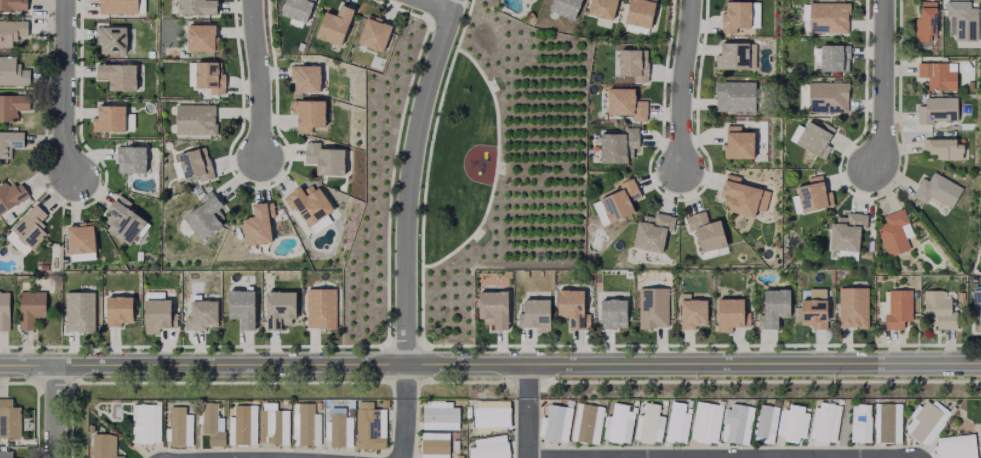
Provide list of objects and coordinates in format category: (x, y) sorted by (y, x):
building: (529, 0)
building: (15, 5)
building: (118, 7)
building: (197, 7)
road: (430, 7)
building: (566, 8)
building: (298, 9)
building: (602, 9)
road: (432, 10)
building: (640, 13)
building: (735, 18)
building: (828, 18)
building: (957, 20)
building: (921, 22)
building: (335, 26)
building: (13, 32)
building: (375, 34)
building: (202, 39)
building: (112, 40)
building: (149, 54)
building: (733, 58)
building: (835, 59)
building: (633, 65)
building: (14, 73)
building: (934, 74)
building: (118, 77)
building: (210, 77)
building: (304, 77)
road: (256, 80)
road: (881, 86)
road: (680, 87)
road: (65, 91)
building: (735, 96)
building: (827, 97)
building: (626, 103)
building: (14, 106)
building: (933, 109)
building: (309, 113)
building: (109, 118)
building: (195, 119)
building: (816, 138)
building: (12, 140)
building: (739, 141)
building: (938, 143)
building: (618, 145)
building: (131, 158)
building: (325, 158)
park: (457, 162)
building: (196, 163)
road: (494, 168)
road: (426, 169)
road: (390, 180)
road: (408, 180)
building: (935, 187)
building: (12, 192)
building: (815, 194)
building: (744, 196)
building: (621, 200)
building: (309, 202)
building: (599, 214)
building: (206, 215)
building: (124, 219)
building: (258, 224)
building: (34, 226)
building: (706, 230)
building: (653, 231)
building: (848, 231)
building: (891, 231)
building: (81, 237)
building: (974, 298)
building: (35, 305)
building: (894, 305)
building: (243, 307)
building: (853, 307)
building: (934, 307)
building: (6, 308)
building: (280, 308)
building: (322, 308)
building: (494, 308)
building: (573, 308)
building: (653, 308)
building: (774, 308)
building: (119, 309)
building: (80, 311)
building: (613, 313)
building: (692, 313)
building: (814, 313)
building: (535, 314)
building: (731, 314)
building: (158, 315)
building: (202, 315)
road: (403, 345)
road: (490, 368)
road: (525, 384)
road: (402, 412)
building: (7, 415)
road: (57, 416)
building: (488, 416)
building: (438, 417)
building: (820, 419)
building: (855, 419)
building: (883, 419)
building: (922, 419)
building: (733, 420)
building: (761, 420)
building: (787, 420)
building: (368, 423)
building: (701, 423)
building: (143, 424)
building: (209, 425)
building: (272, 425)
building: (553, 425)
building: (585, 425)
building: (616, 425)
building: (676, 425)
building: (304, 426)
building: (647, 426)
building: (241, 427)
building: (177, 428)
road: (525, 428)
building: (337, 431)
building: (953, 445)
building: (433, 446)
building: (100, 447)
building: (488, 448)
building: (6, 454)

